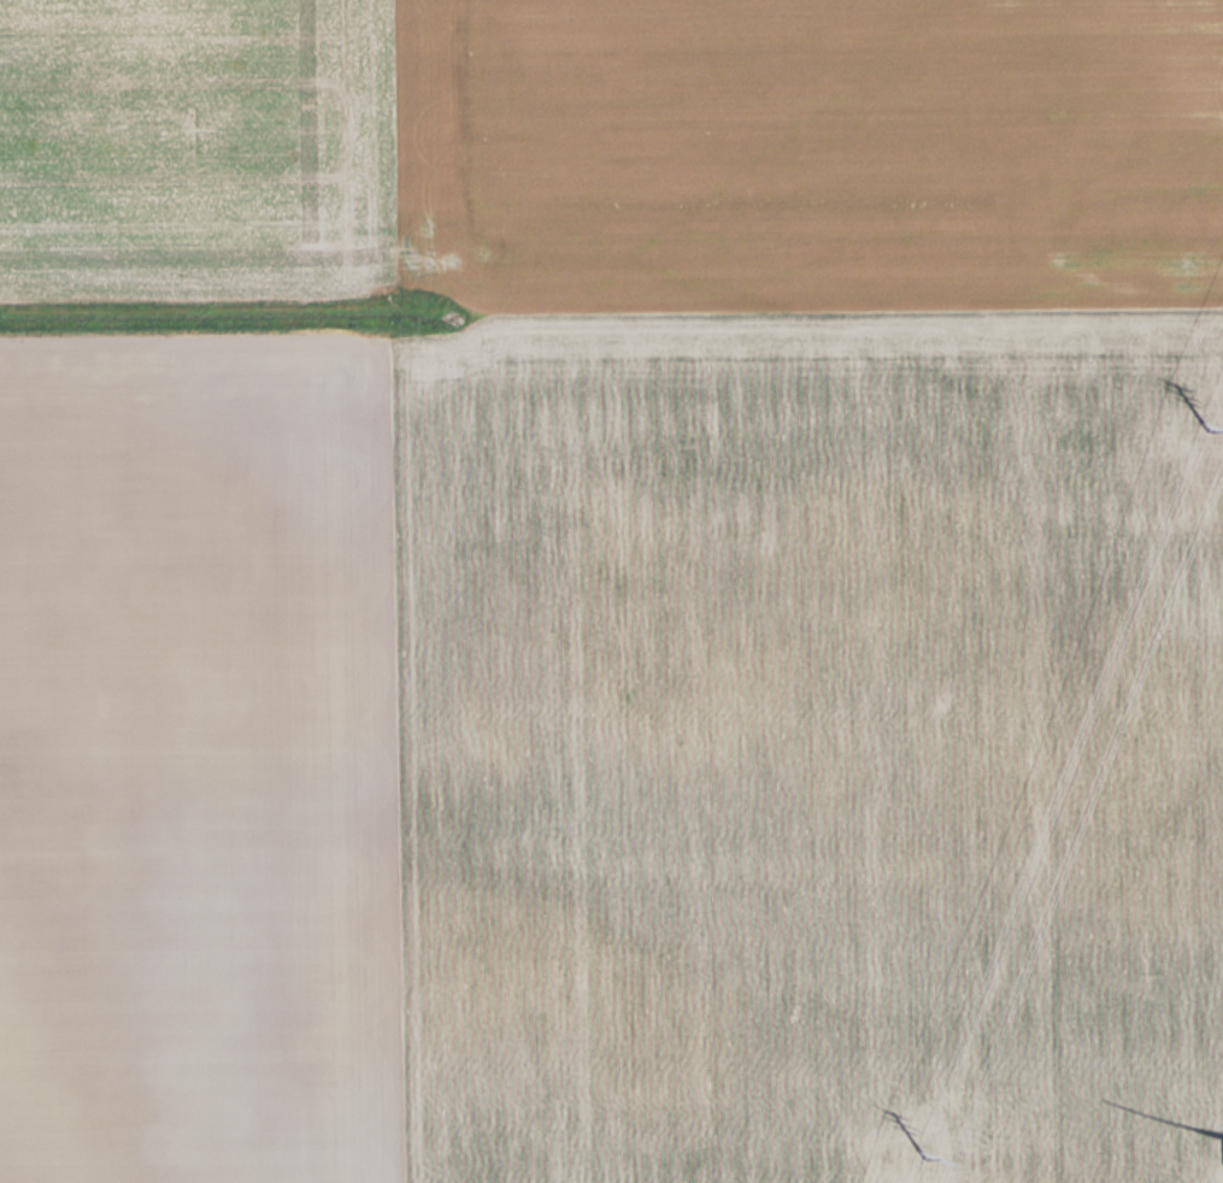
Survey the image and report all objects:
power tower: (1212, 423)
power tower: (911, 1165)

